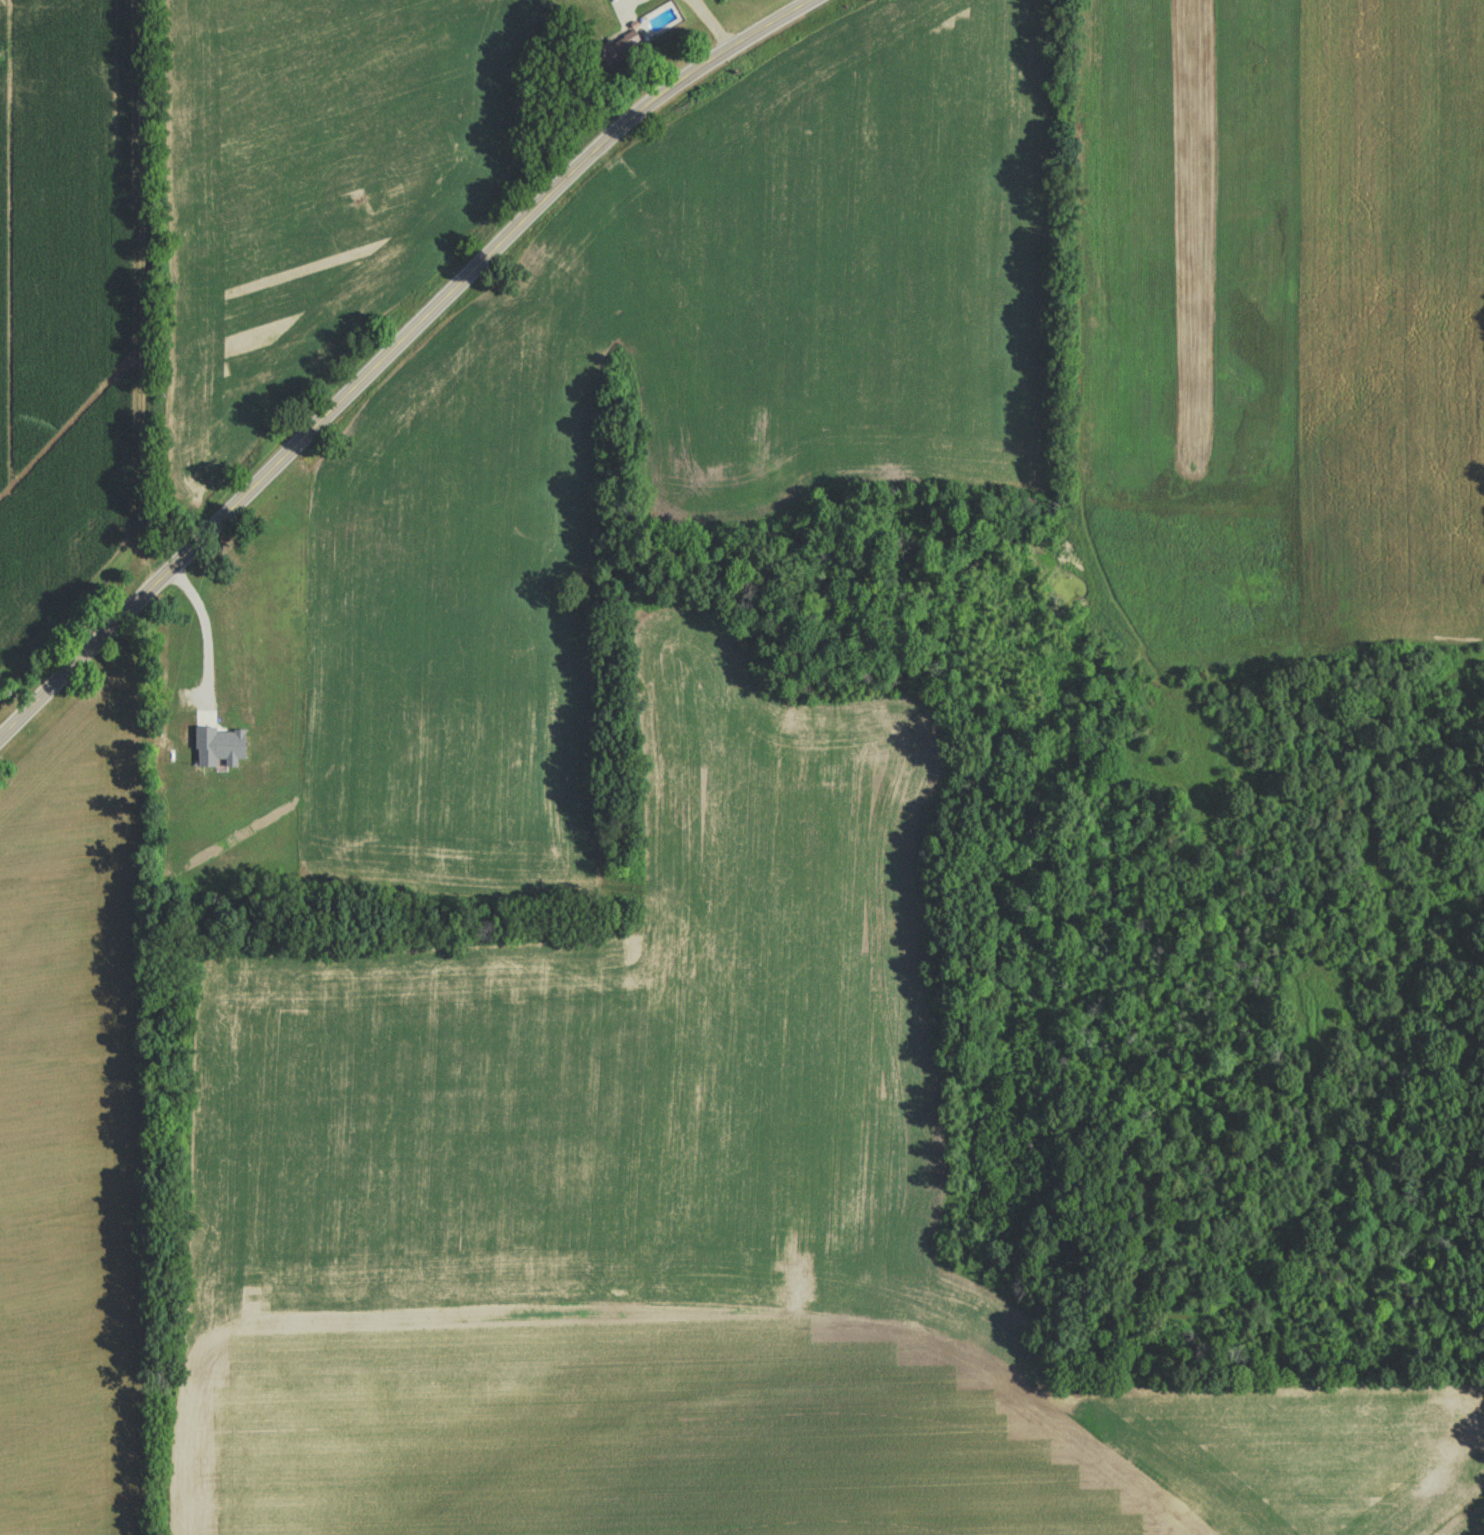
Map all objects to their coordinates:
building: (627, 0)
road: (391, 342)

